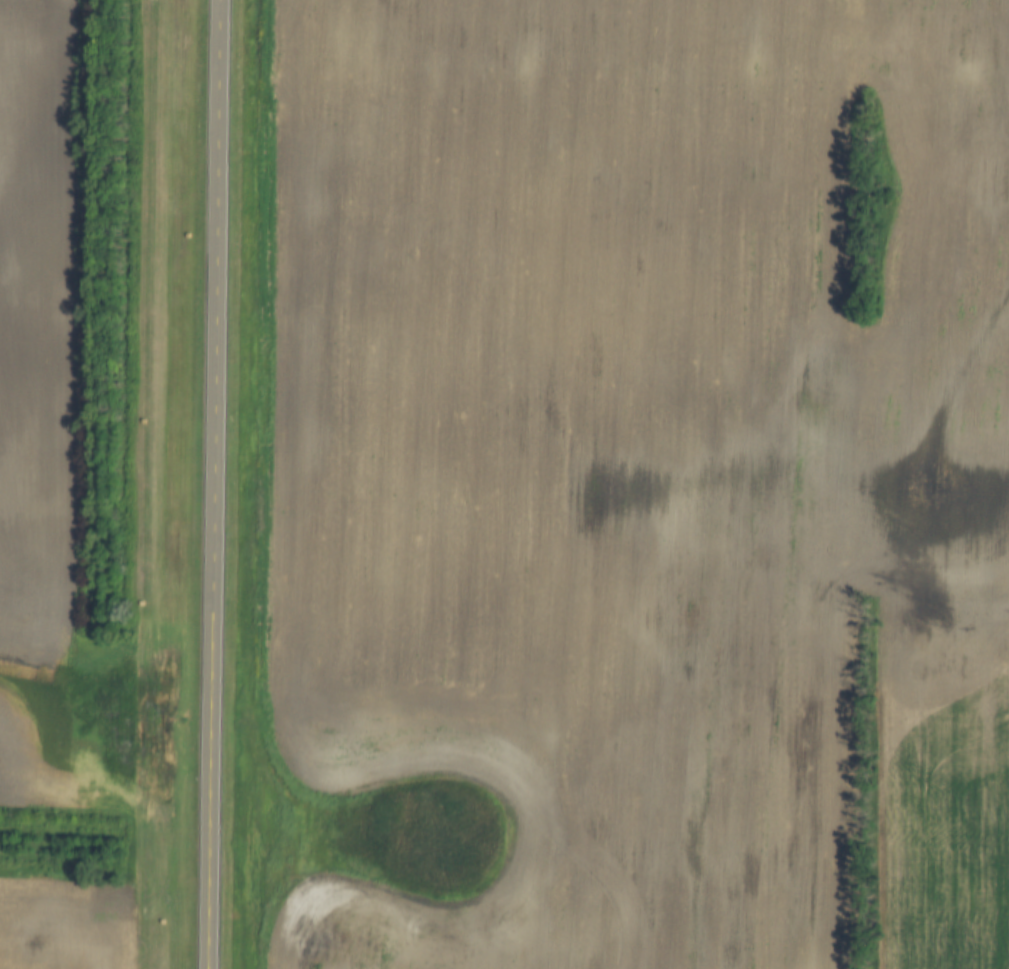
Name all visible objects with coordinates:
road: (199, 484)

